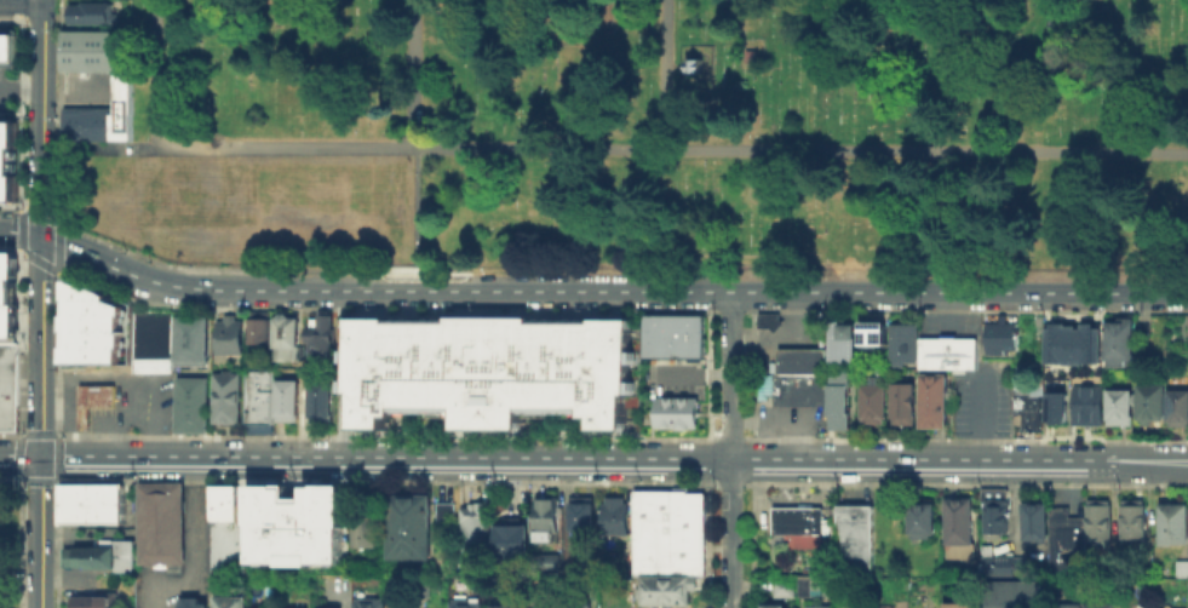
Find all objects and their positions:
building: (96, 16)
building: (7, 46)
park: (934, 69)
road: (414, 71)
road: (156, 73)
road: (666, 74)
road: (22, 86)
parking lot: (85, 87)
building: (119, 87)
parking lot: (7, 91)
park: (650, 133)
road: (615, 147)
building: (7, 157)
park: (248, 203)
road: (415, 217)
traffic signals: (44, 239)
road: (202, 288)
road: (802, 292)
building: (7, 299)
road: (707, 299)
road: (753, 299)
road: (42, 303)
building: (768, 319)
building: (259, 328)
building: (94, 329)
building: (873, 331)
building: (228, 333)
building: (320, 333)
building: (672, 334)
building: (283, 337)
building: (190, 339)
building: (150, 340)
building: (840, 340)
building: (901, 340)
building: (1004, 340)
building: (1054, 342)
building: (1089, 342)
building: (1123, 342)
building: (1072, 344)
building: (947, 351)
building: (800, 360)
building: (484, 369)
road: (707, 373)
road: (752, 373)
road: (731, 374)
building: (10, 388)
building: (798, 388)
building: (1054, 391)
building: (259, 395)
building: (224, 396)
building: (285, 397)
building: (90, 398)
building: (317, 398)
building: (932, 398)
building: (839, 400)
building: (901, 401)
building: (1150, 401)
building: (189, 403)
building: (871, 403)
building: (1090, 406)
building: (1178, 406)
building: (675, 411)
building: (1121, 411)
building: (1031, 412)
road: (981, 417)
parking lot: (791, 419)
road: (47, 434)
road: (54, 435)
road: (379, 435)
road: (729, 437)
road: (971, 438)
road: (54, 455)
road: (1178, 455)
road: (21, 457)
traffic signals: (42, 457)
road: (707, 457)
road: (511, 458)
road: (751, 459)
road: (1041, 460)
road: (1136, 460)
road: (1177, 465)
road: (56, 477)
road: (47, 478)
road: (379, 480)
road: (728, 482)
road: (969, 483)
building: (90, 501)
road: (190, 510)
building: (443, 510)
building: (993, 511)
building: (584, 516)
building: (615, 518)
building: (924, 521)
building: (1034, 521)
building: (159, 522)
building: (1172, 522)
building: (1098, 523)
building: (295, 524)
building: (407, 524)
building: (549, 524)
building: (1131, 524)
building: (959, 526)
building: (362, 527)
building: (800, 528)
building: (477, 529)
building: (225, 532)
road: (730, 533)
building: (670, 535)
building: (853, 539)
building: (1064, 539)
road: (706, 540)
road: (751, 543)
building: (513, 544)
park: (7, 545)
building: (91, 560)
building: (999, 563)
building: (549, 566)
building: (1181, 567)
street lamp: (16, 573)
road: (168, 584)
building: (807, 589)
building: (786, 591)
building: (667, 593)
building: (1014, 595)
building: (87, 601)
building: (230, 601)
building: (191, 604)
building: (369, 604)
building: (1100, 604)
building: (469, 606)
building: (499, 606)
building: (774, 606)
building: (816, 606)
building: (1071, 606)
building: (286, 607)
building: (329, 607)
building: (539, 607)
building: (580, 607)
building: (959, 607)

